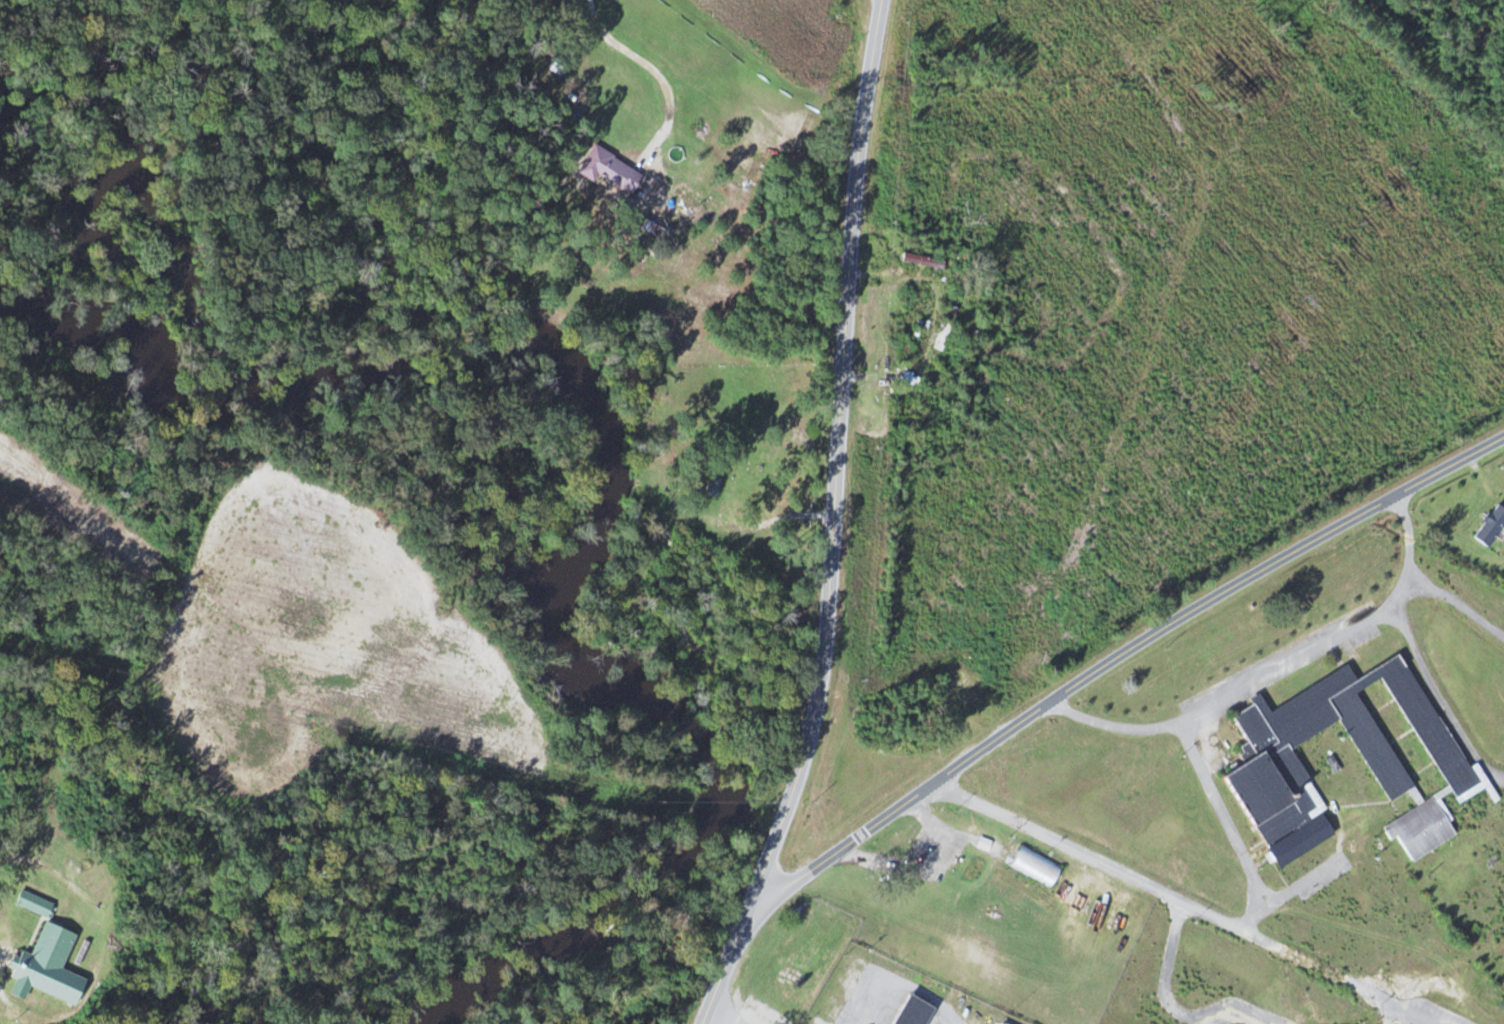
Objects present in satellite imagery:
road: (657, 67)
building: (610, 168)
building: (945, 334)
river: (594, 516)
road: (833, 521)
building: (1493, 527)
road: (1117, 657)
building: (977, 692)
building: (1272, 754)
building: (1423, 829)
building: (1038, 866)
road: (1189, 899)
building: (36, 904)
building: (49, 967)
building: (916, 1011)
building: (1003, 1023)

